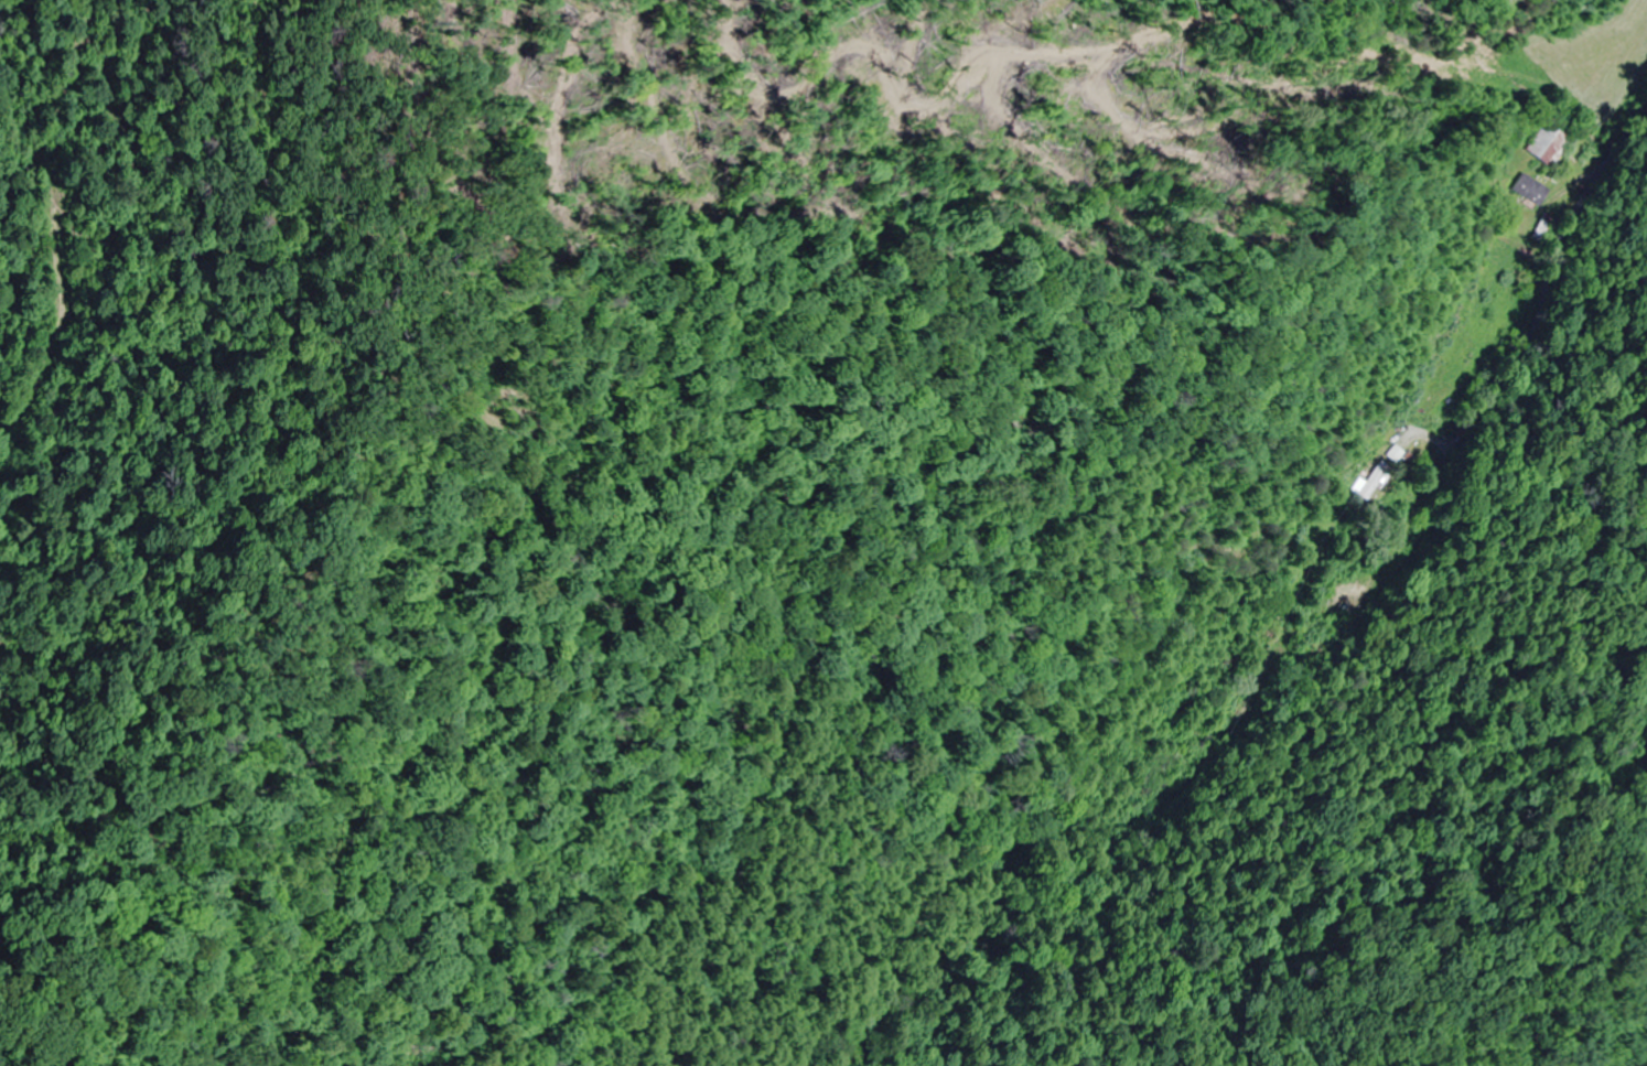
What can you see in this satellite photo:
building: (1546, 146)
building: (1529, 190)
road: (1576, 267)
building: (1445, 365)
building: (1395, 454)
building: (1374, 481)

